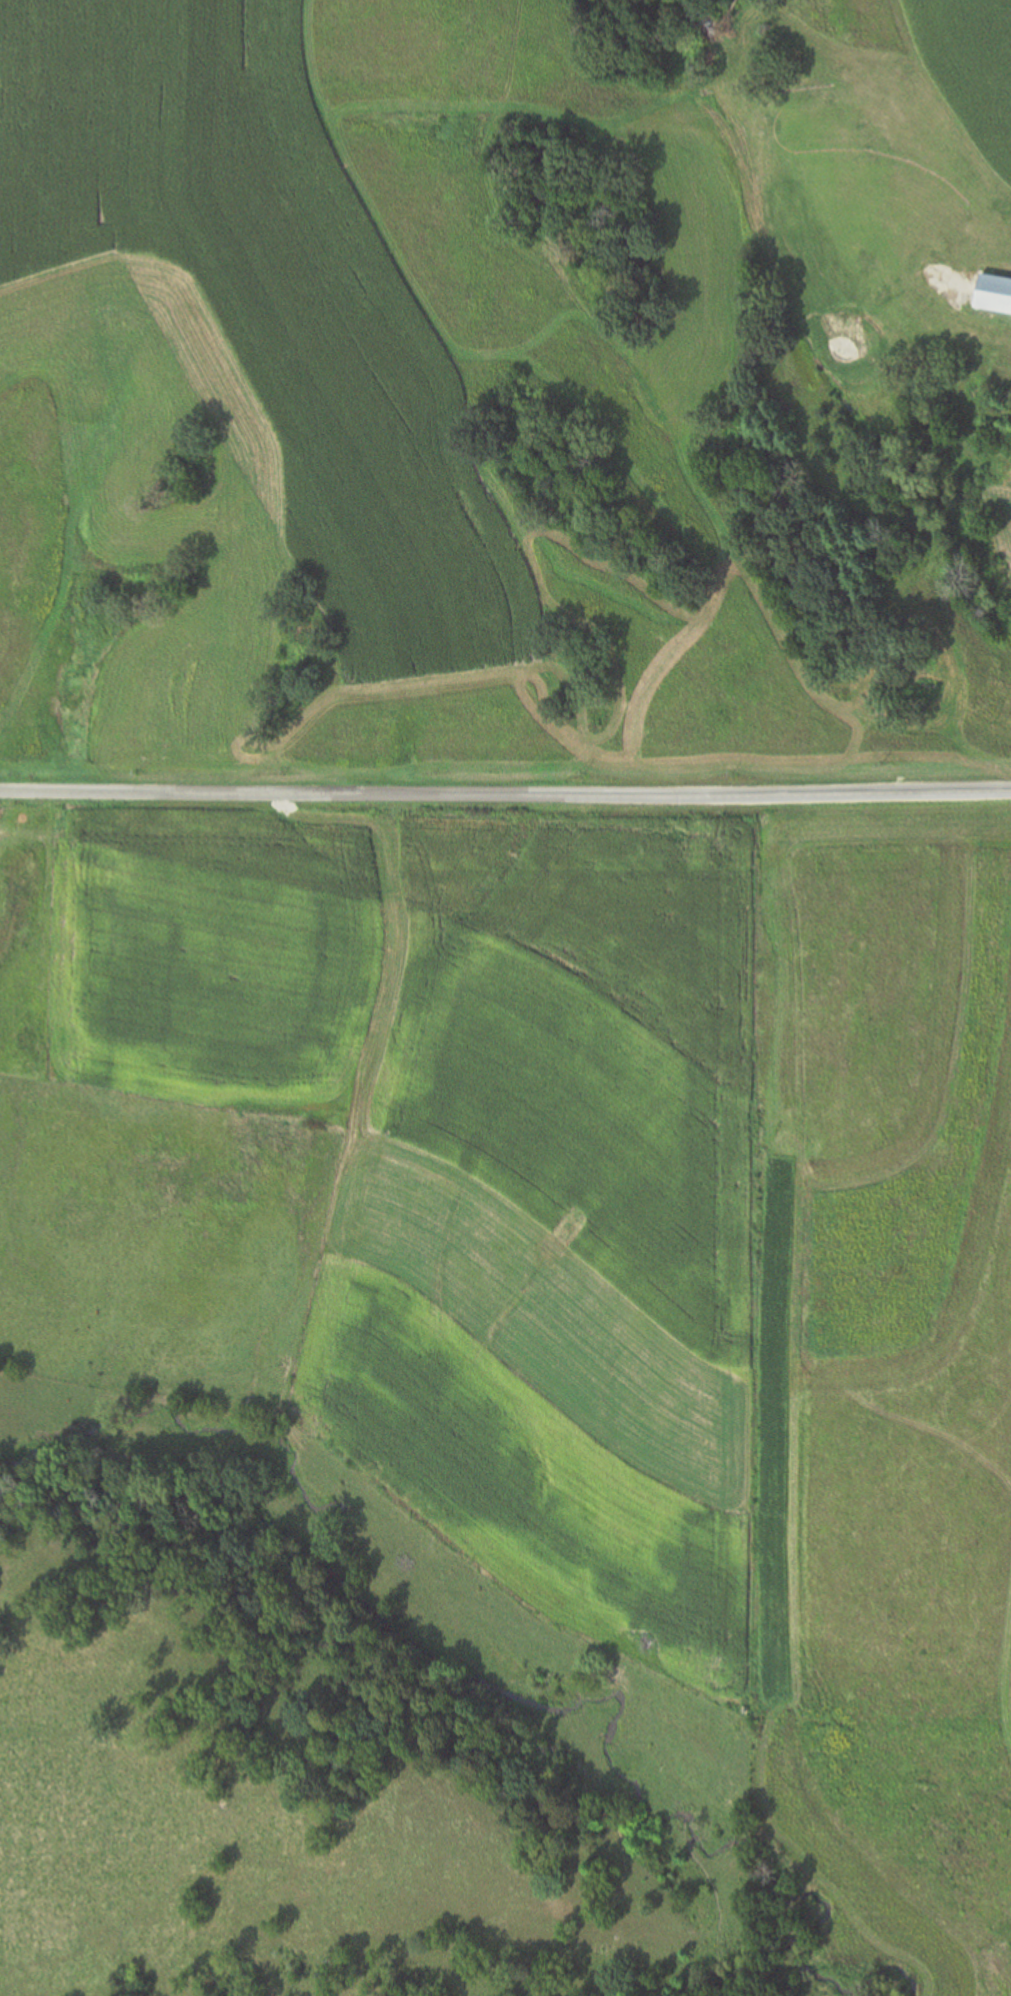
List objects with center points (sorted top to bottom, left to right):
building: (994, 293)
road: (505, 790)

